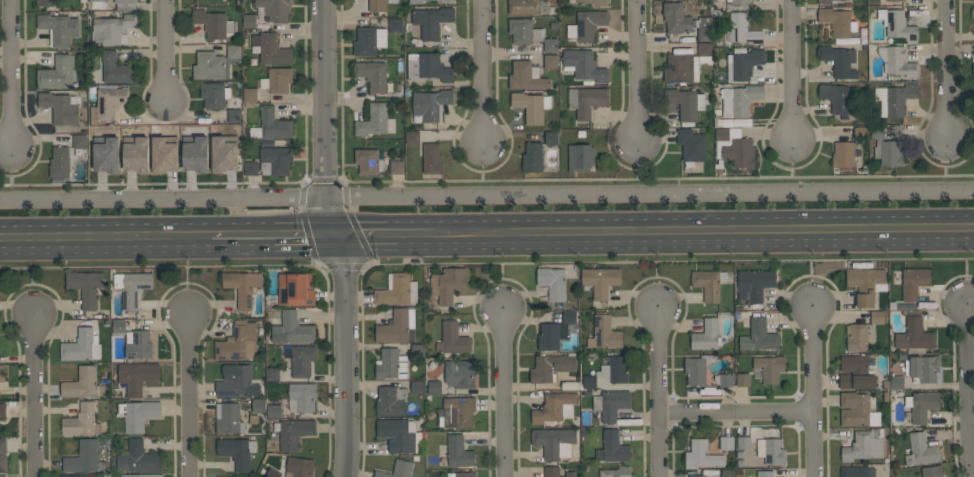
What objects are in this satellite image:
building: (838, 0)
building: (895, 0)
building: (973, 0)
building: (415, 1)
building: (446, 1)
building: (826, 1)
building: (46, 2)
building: (591, 2)
building: (739, 2)
building: (97, 3)
building: (125, 4)
building: (379, 5)
building: (523, 7)
building: (275, 9)
building: (972, 13)
building: (676, 18)
building: (249, 20)
building: (432, 20)
building: (837, 21)
building: (213, 23)
building: (897, 24)
building: (395, 25)
building: (586, 25)
building: (58, 29)
building: (111, 29)
building: (743, 29)
building: (524, 31)
building: (704, 34)
building: (369, 41)
building: (550, 45)
building: (271, 48)
road: (166, 51)
building: (233, 51)
building: (704, 52)
building: (550, 61)
building: (839, 61)
building: (897, 62)
building: (743, 64)
building: (212, 65)
building: (583, 65)
building: (427, 67)
building: (115, 68)
building: (681, 68)
building: (973, 70)
road: (638, 71)
road: (948, 71)
road: (790, 72)
building: (57, 73)
road: (483, 73)
building: (372, 75)
road: (11, 76)
building: (526, 76)
building: (277, 80)
building: (973, 89)
building: (214, 94)
building: (250, 94)
building: (835, 97)
building: (894, 98)
building: (586, 100)
building: (740, 100)
building: (107, 103)
building: (687, 104)
building: (430, 105)
building: (531, 106)
building: (60, 107)
building: (234, 115)
building: (375, 121)
building: (271, 125)
building: (877, 132)
building: (551, 137)
building: (412, 138)
building: (79, 141)
building: (691, 145)
building: (734, 147)
building: (888, 152)
building: (195, 153)
building: (223, 153)
building: (106, 154)
building: (136, 154)
building: (164, 154)
building: (843, 154)
building: (533, 157)
building: (580, 157)
building: (277, 159)
building: (432, 159)
building: (368, 161)
building: (59, 162)
building: (396, 167)
building: (251, 168)
road: (486, 195)
road: (715, 233)
road: (397, 236)
road: (274, 237)
road: (337, 238)
road: (105, 239)
road: (810, 267)
road: (969, 269)
road: (660, 272)
road: (503, 273)
road: (186, 275)
road: (30, 277)
building: (600, 280)
building: (914, 282)
building: (552, 283)
building: (708, 283)
building: (447, 284)
building: (753, 284)
building: (865, 284)
building: (86, 286)
building: (242, 286)
building: (131, 287)
building: (296, 289)
building: (397, 290)
building: (568, 316)
building: (119, 326)
building: (397, 327)
building: (292, 329)
building: (604, 333)
building: (551, 335)
building: (705, 335)
building: (914, 335)
building: (758, 336)
building: (856, 337)
building: (452, 338)
building: (238, 342)
building: (138, 344)
building: (81, 346)
building: (300, 360)
building: (391, 364)
building: (551, 367)
building: (769, 368)
building: (922, 368)
building: (614, 369)
building: (694, 370)
building: (2, 373)
building: (460, 373)
building: (855, 373)
building: (272, 374)
building: (137, 376)
building: (725, 380)
building: (743, 380)
building: (236, 381)
building: (589, 381)
building: (896, 382)
building: (83, 384)
building: (417, 387)
building: (434, 387)
road: (969, 388)
road: (812, 389)
road: (660, 393)
road: (506, 394)
road: (32, 395)
road: (189, 395)
building: (302, 397)
building: (390, 401)
building: (611, 404)
building: (258, 405)
building: (921, 405)
building: (552, 407)
building: (3, 410)
building: (857, 410)
building: (274, 411)
building: (458, 411)
building: (138, 414)
road: (737, 414)
building: (227, 418)
building: (81, 420)
building: (293, 432)
building: (398, 435)
building: (554, 442)
building: (743, 442)
building: (726, 443)
building: (3, 445)
building: (864, 445)
building: (612, 447)
building: (771, 450)
building: (921, 450)
building: (236, 451)
building: (458, 452)
building: (701, 455)
building: (84, 457)
building: (138, 458)
building: (2, 463)
building: (300, 466)
building: (398, 469)
building: (551, 471)
building: (857, 471)
building: (932, 471)
building: (615, 472)
building: (272, 473)
building: (727, 473)
building: (461, 474)
building: (570, 474)
building: (765, 474)
building: (143, 475)
building: (697, 475)
building: (3, 476)
building: (74, 476)
building: (223, 476)

